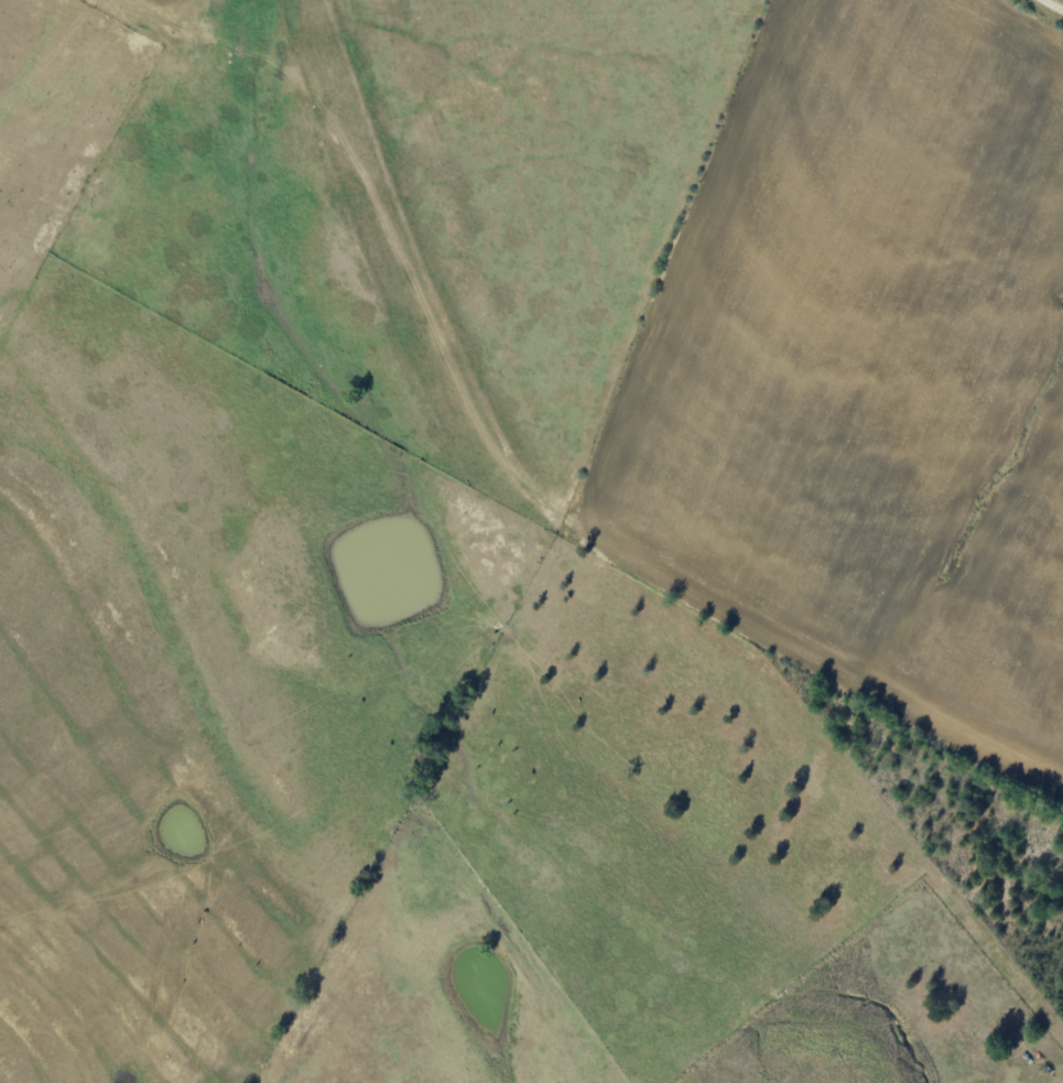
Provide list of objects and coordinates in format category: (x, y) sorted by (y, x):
crop: (57, 120)

